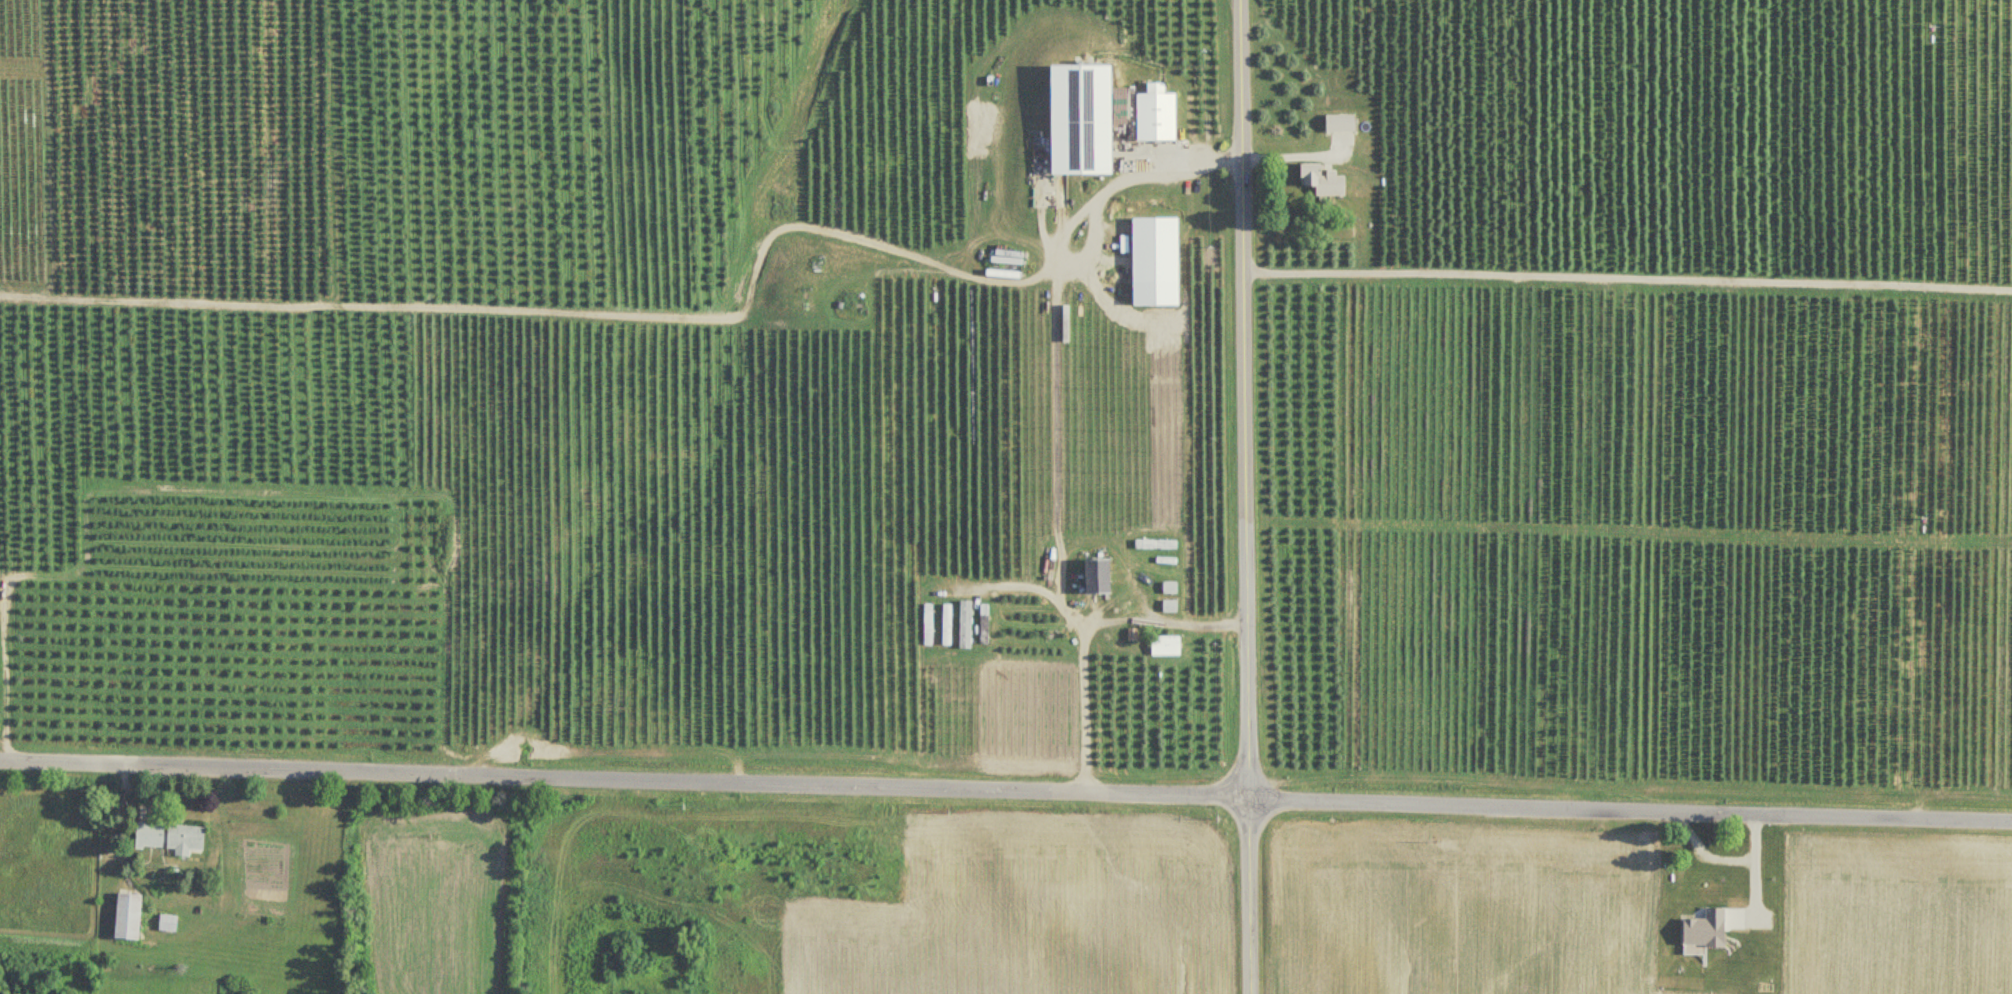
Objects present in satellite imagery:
building: (1157, 116)
building: (1082, 121)
building: (1341, 124)
road: (1296, 157)
building: (1324, 181)
road: (1096, 202)
building: (1156, 253)
road: (1627, 277)
road: (1245, 496)
building: (1157, 545)
building: (1099, 578)
building: (1170, 589)
building: (1170, 607)
building: (948, 626)
building: (966, 626)
building: (985, 626)
building: (929, 627)
road: (1084, 627)
building: (1167, 647)
road: (1006, 790)
building: (171, 838)
crop: (1459, 909)
crop: (1032, 911)
crop: (1889, 913)
building: (129, 917)
building: (168, 924)

